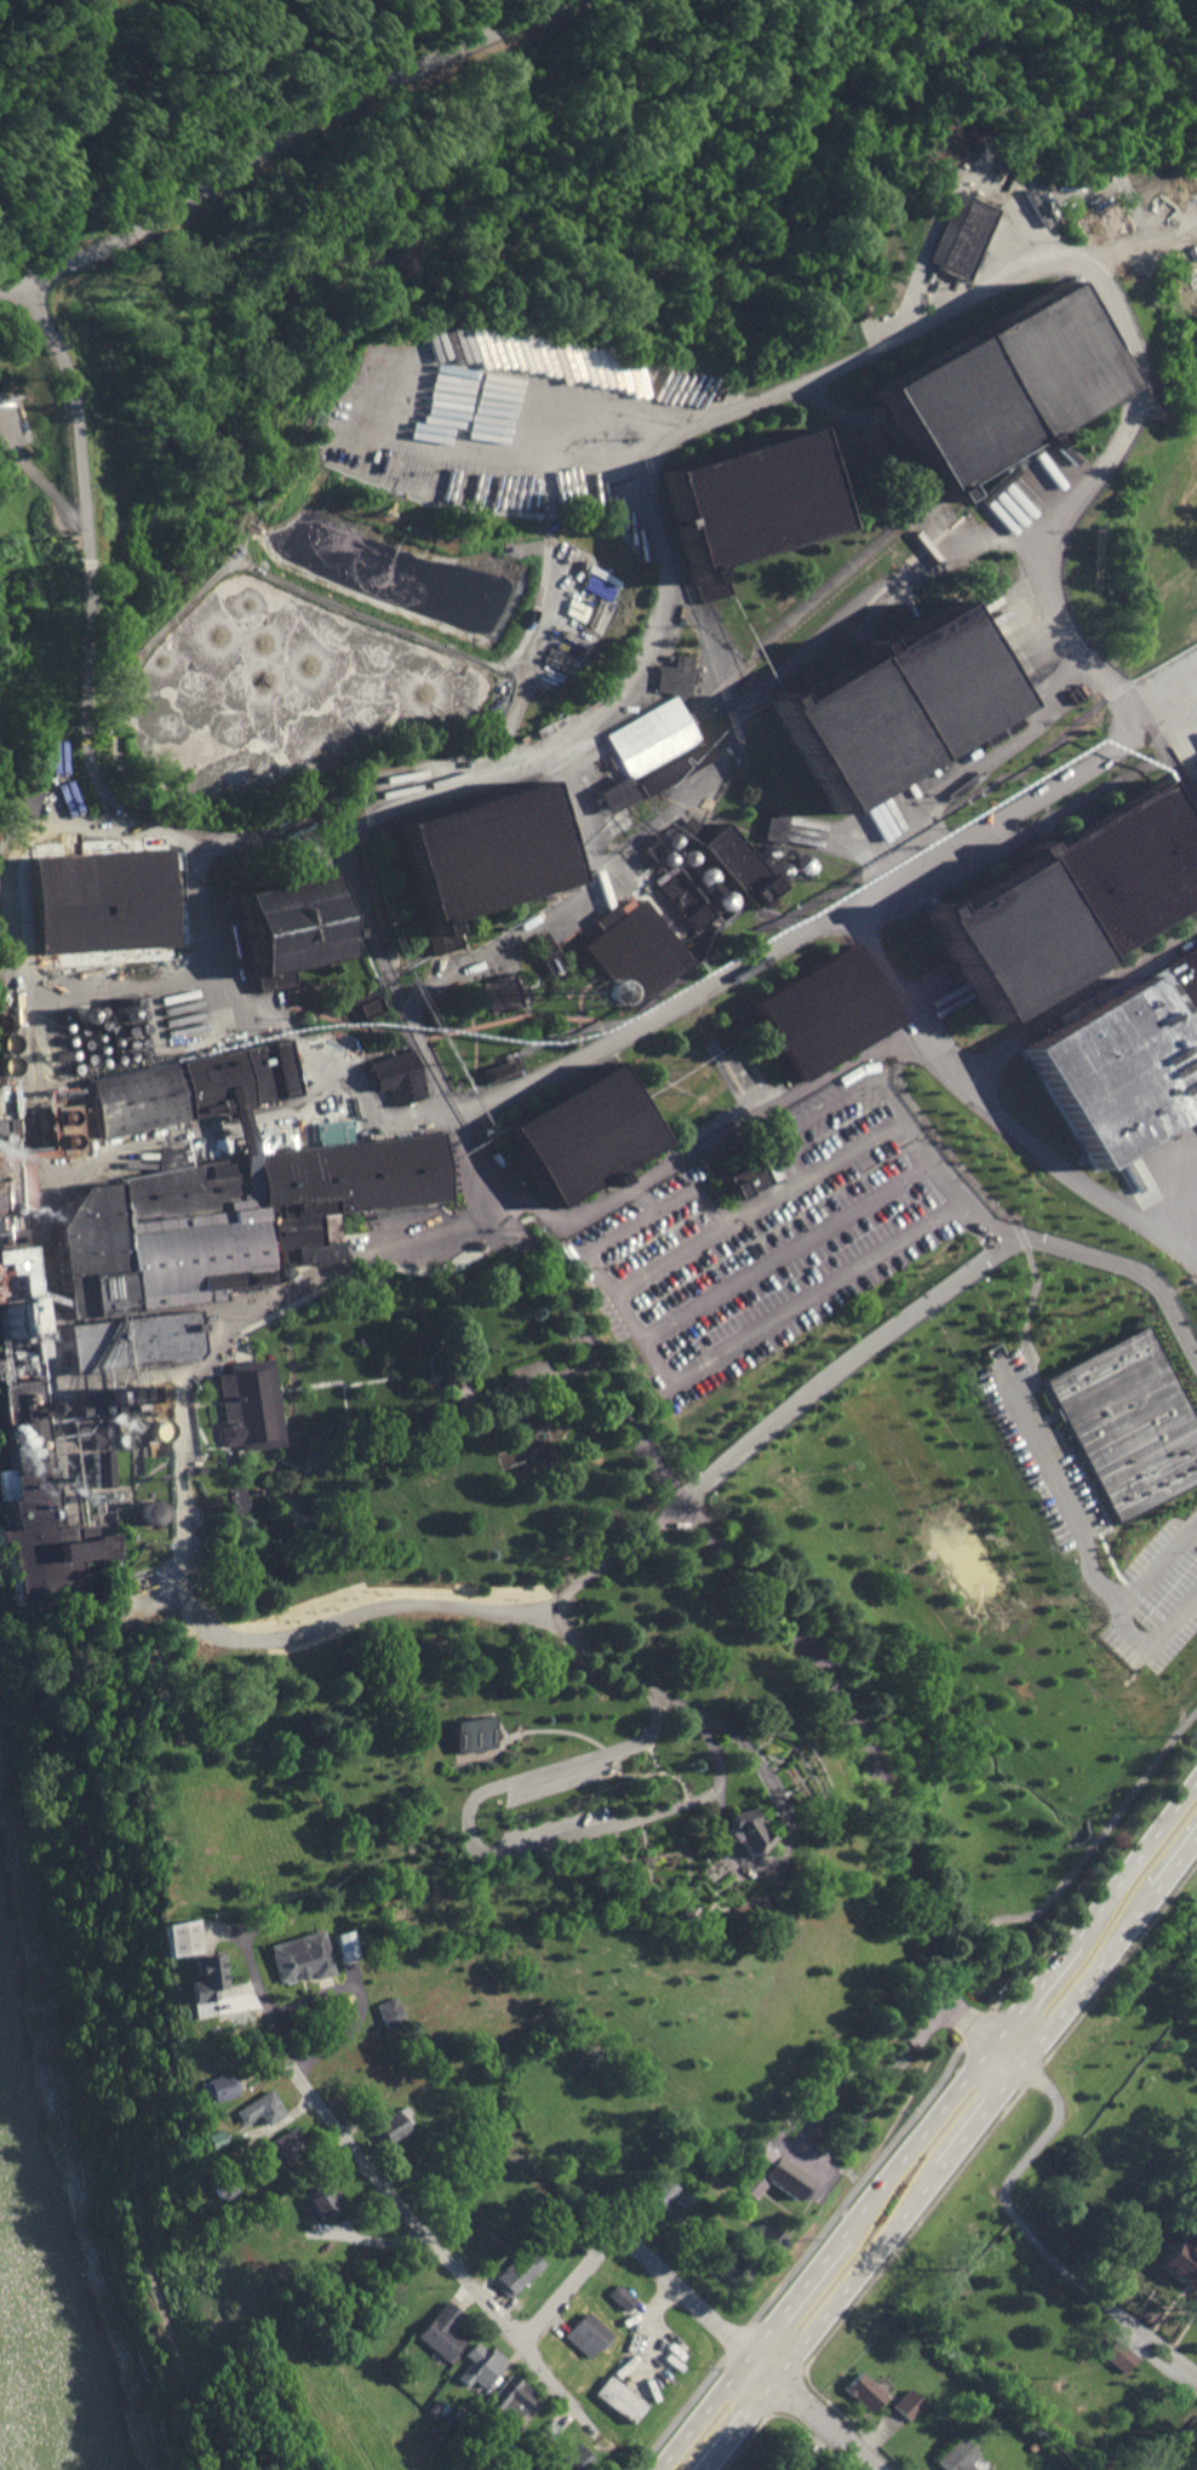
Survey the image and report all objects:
road: (282, 141)
building: (951, 236)
road: (1113, 309)
building: (853, 311)
building: (1087, 321)
building: (1033, 360)
building: (943, 413)
parking lot: (13, 422)
road: (45, 485)
railway: (992, 488)
building: (741, 505)
road: (79, 573)
road: (262, 577)
railway: (854, 578)
railway: (834, 580)
railway: (826, 594)
railway: (797, 607)
railway: (694, 615)
railway: (692, 618)
railway: (854, 631)
railway: (813, 652)
road: (1164, 663)
road: (785, 665)
building: (674, 675)
building: (937, 683)
railway: (775, 688)
building: (1071, 697)
road: (607, 698)
road: (767, 718)
building: (540, 729)
building: (844, 733)
building: (520, 738)
building: (649, 751)
road: (1173, 767)
road: (777, 778)
building: (27, 797)
railway: (440, 804)
railway: (705, 812)
building: (323, 813)
road: (735, 825)
building: (772, 826)
building: (691, 830)
railway: (771, 836)
road: (337, 843)
railway: (817, 853)
building: (476, 856)
building: (735, 865)
building: (1121, 871)
building: (701, 876)
railway: (571, 882)
building: (99, 899)
building: (683, 900)
road: (568, 912)
road: (827, 921)
building: (716, 927)
building: (282, 930)
railway: (342, 933)
building: (1008, 939)
railway: (389, 941)
building: (544, 942)
railway: (445, 944)
building: (634, 950)
building: (551, 961)
road: (882, 968)
road: (582, 991)
water tower: (571, 992)
building: (498, 995)
road: (1081, 1001)
building: (365, 1003)
road: (307, 1010)
road: (342, 1010)
road: (274, 1013)
road: (538, 1014)
building: (819, 1014)
road: (462, 1028)
road: (475, 1053)
building: (1124, 1064)
park: (740, 1070)
railway: (756, 1071)
building: (497, 1072)
building: (397, 1077)
building: (194, 1087)
road: (449, 1107)
road: (898, 1112)
building: (237, 1117)
road: (34, 1118)
building: (64, 1122)
building: (579, 1136)
road: (710, 1141)
road: (1049, 1157)
road: (711, 1170)
railway: (637, 1171)
building: (351, 1176)
building: (746, 1177)
building: (5, 1179)
road: (946, 1181)
road: (980, 1190)
railway: (595, 1194)
road: (646, 1198)
road: (642, 1219)
building: (979, 1219)
road: (353, 1222)
road: (812, 1233)
parking lot: (772, 1236)
building: (7, 1237)
building: (161, 1237)
building: (300, 1239)
building: (476, 1245)
flagpole: (508, 1255)
road: (1129, 1268)
road: (413, 1270)
building: (8, 1272)
building: (449, 1288)
silo: (17, 1305)
silo: (5, 1306)
building: (12, 1317)
silo: (17, 1317)
silo: (5, 1319)
silo: (7, 1331)
road: (222, 1335)
road: (744, 1340)
building: (360, 1342)
building: (130, 1343)
road: (584, 1352)
road: (428, 1356)
road: (256, 1359)
road: (846, 1363)
road: (1030, 1365)
parking lot: (533, 1366)
road: (572, 1366)
building: (451, 1372)
road: (128, 1376)
road: (388, 1376)
road: (322, 1383)
road: (293, 1388)
road: (1039, 1388)
road: (274, 1389)
road: (283, 1389)
chimney: (24, 1394)
chimney: (25, 1400)
building: (105, 1402)
building: (246, 1405)
road: (1058, 1414)
building: (1127, 1420)
road: (279, 1429)
road: (340, 1434)
building: (94, 1435)
chimney: (25, 1443)
road: (259, 1449)
road: (1078, 1458)
road: (279, 1460)
road: (296, 1465)
building: (101, 1471)
road: (134, 1485)
road: (250, 1492)
road: (292, 1497)
building: (236, 1498)
building: (39, 1505)
road: (250, 1512)
road: (293, 1514)
parking lot: (1093, 1517)
road: (1110, 1520)
road: (1082, 1536)
road: (246, 1565)
road: (275, 1569)
road: (259, 1570)
road: (1145, 1599)
road: (1153, 1643)
road: (529, 1731)
building: (469, 1733)
road: (706, 1737)
road: (874, 1771)
parking lot: (562, 1772)
road: (661, 1772)
road: (637, 1773)
road: (815, 1786)
road: (763, 1816)
parking lot: (552, 1830)
building: (741, 1830)
road: (465, 1833)
road: (681, 1852)
road: (634, 1857)
building: (174, 1937)
building: (342, 1945)
building: (298, 1955)
building: (204, 1978)
road: (256, 1985)
road: (361, 1998)
building: (389, 2011)
road: (934, 2084)
building: (217, 2086)
building: (260, 2108)
road: (854, 2117)
building: (394, 2124)
road: (928, 2124)
parking lot: (809, 2131)
building: (213, 2138)
building: (285, 2145)
road: (951, 2151)
road: (960, 2164)
building: (775, 2171)
building: (224, 2184)
building: (751, 2184)
building: (661, 2191)
building: (682, 2199)
building: (322, 2200)
road: (407, 2210)
building: (762, 2239)
road: (1032, 2240)
road: (632, 2250)
building: (1180, 2260)
building: (729, 2263)
building: (516, 2271)
building: (620, 2297)
building: (440, 2331)
building: (584, 2333)
building: (1118, 2356)
road: (1153, 2360)
building: (477, 2366)
road: (554, 2386)
building: (861, 2391)
building: (510, 2396)
building: (617, 2399)
building: (905, 2403)
building: (433, 2406)
road: (813, 2412)
road: (844, 2419)
building: (550, 2429)
building: (503, 2443)
building: (573, 2459)
building: (789, 2465)

